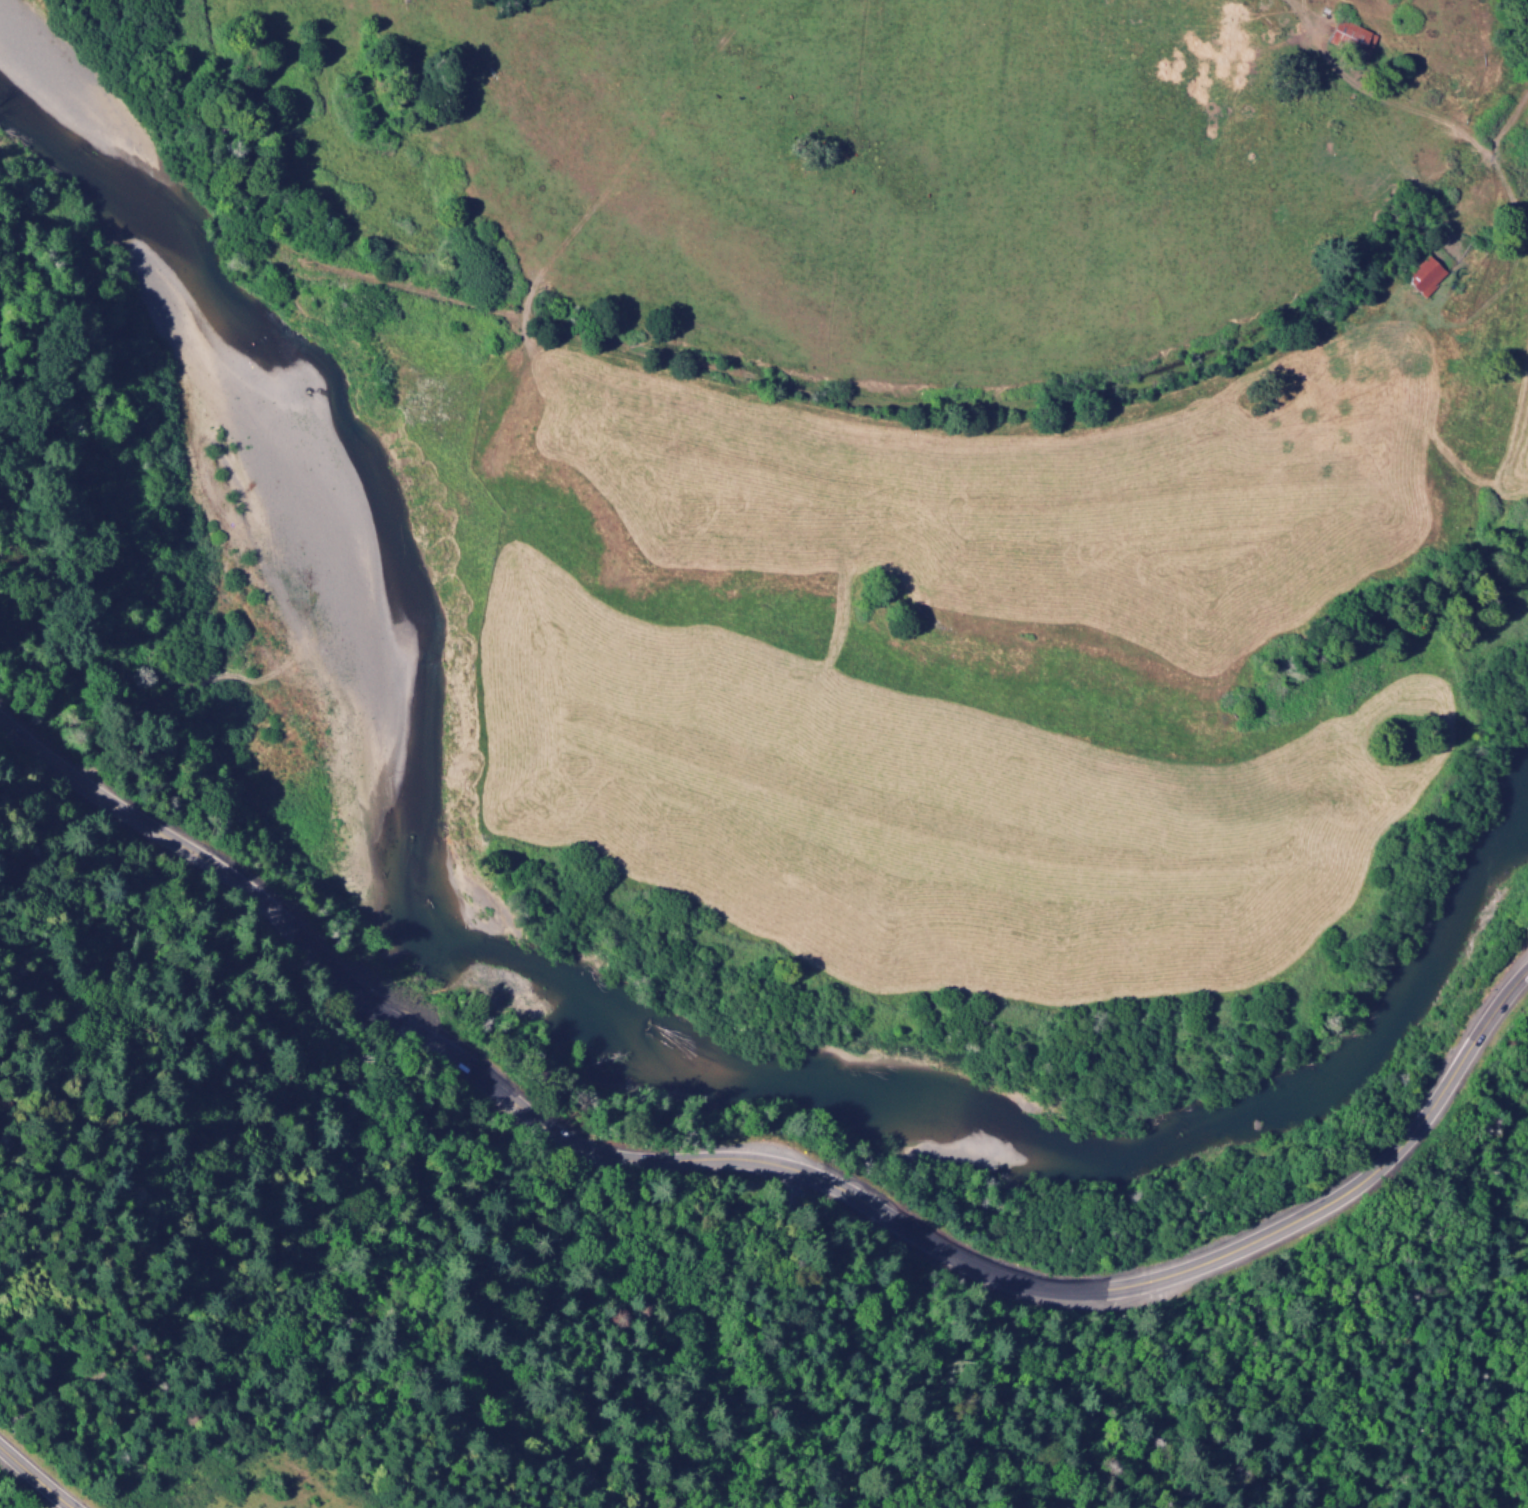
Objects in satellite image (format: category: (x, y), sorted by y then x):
building: (1350, 38)
road: (88, 216)
building: (1423, 278)
river: (538, 971)
road: (769, 1172)
road: (38, 1478)

